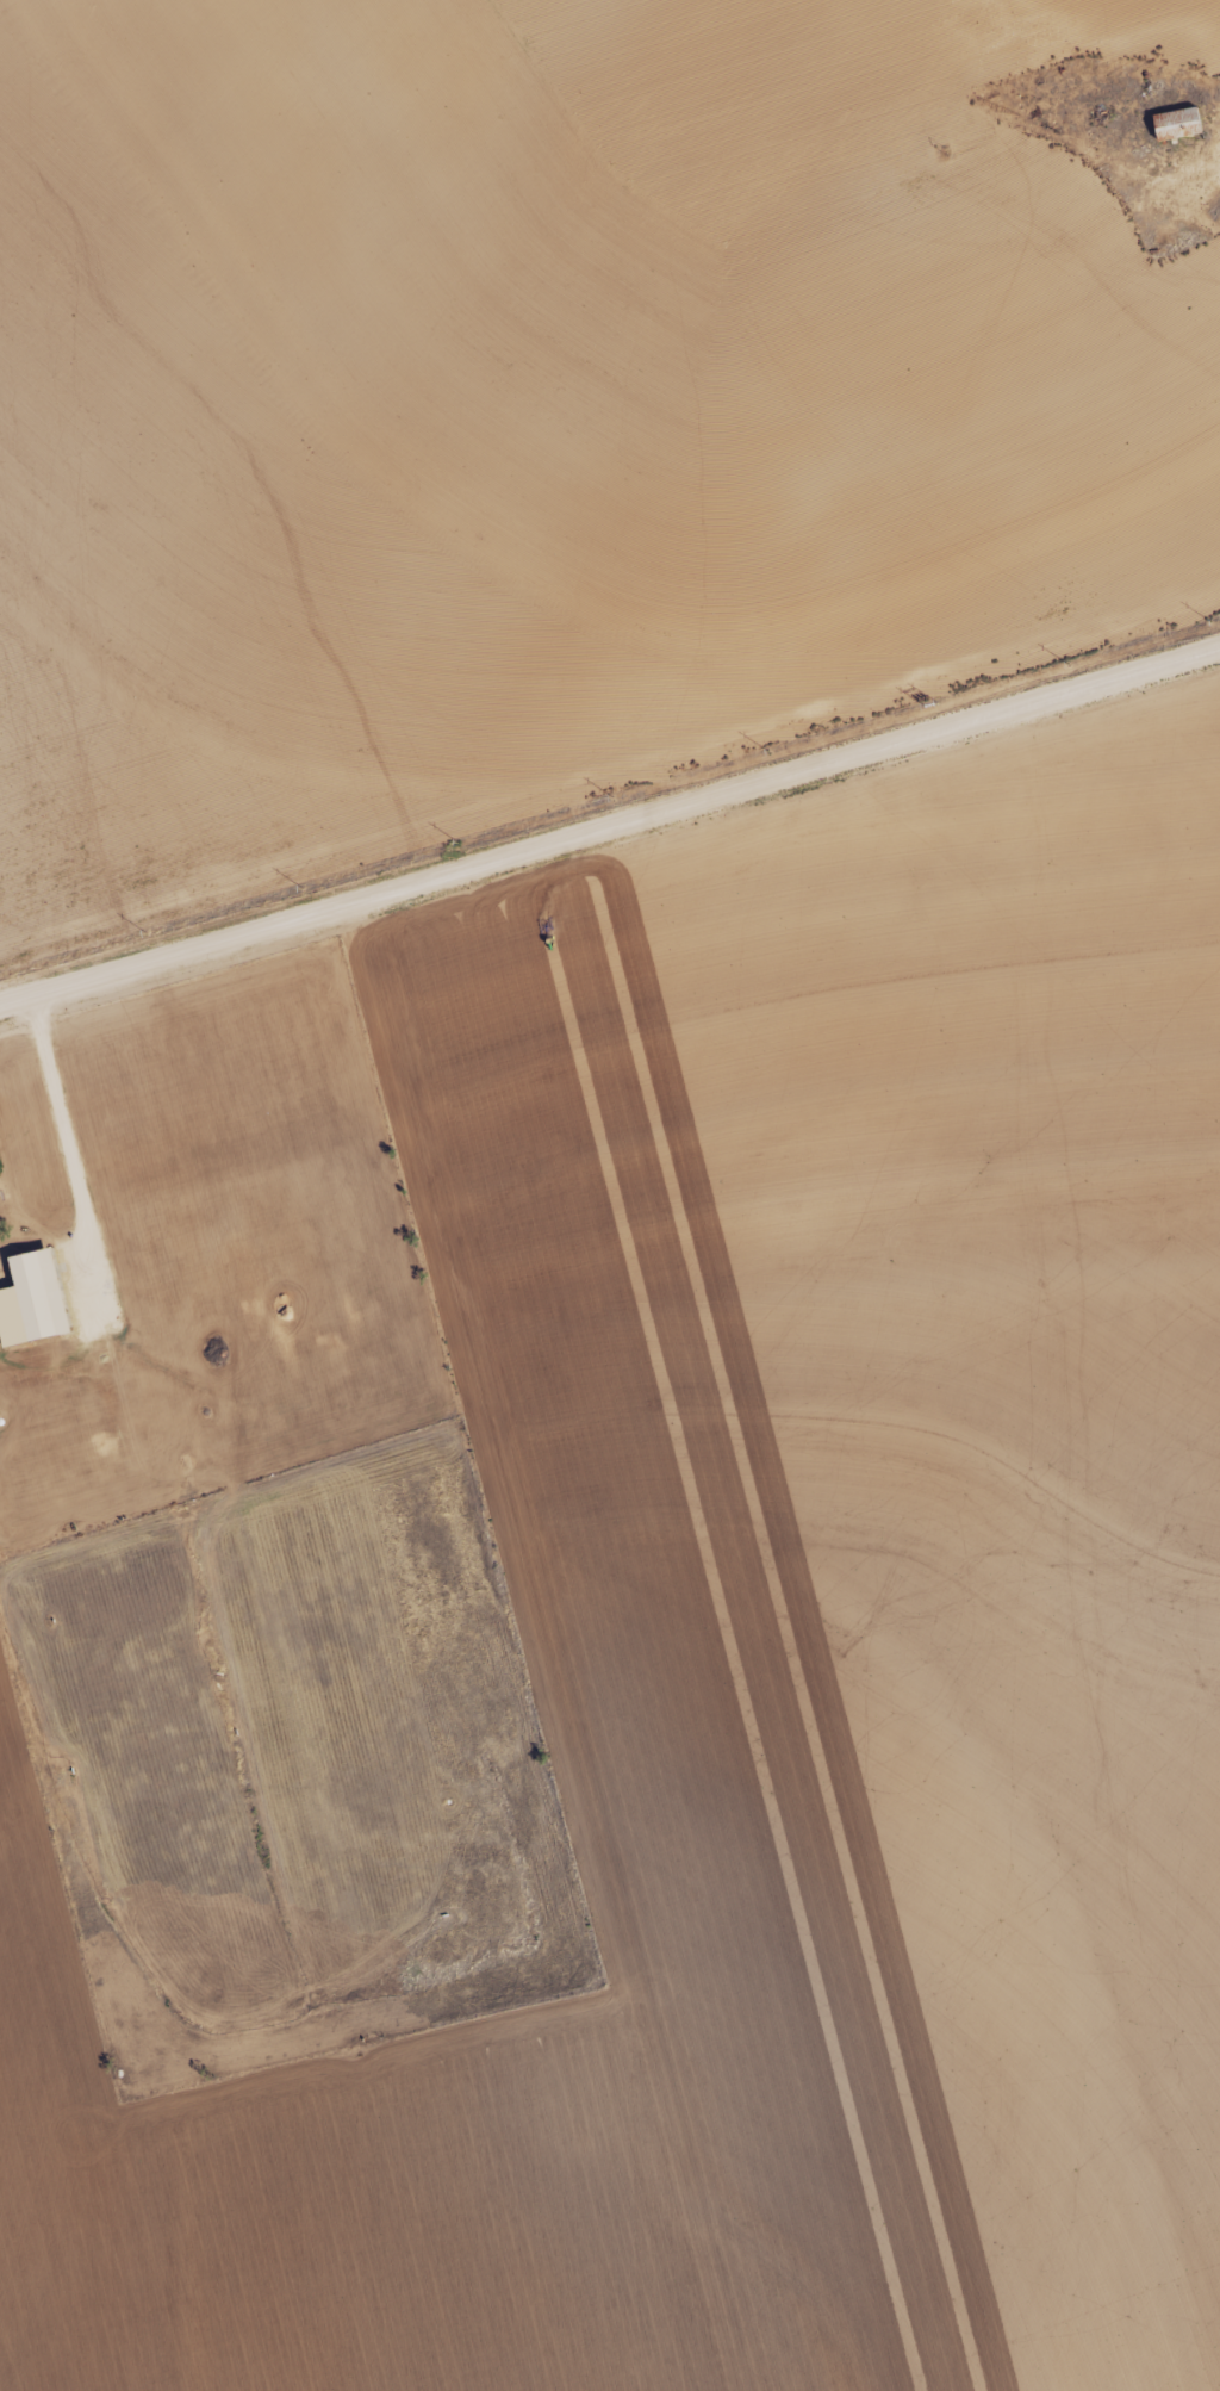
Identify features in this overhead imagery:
building: (1181, 123)
road: (608, 826)
building: (43, 1292)

